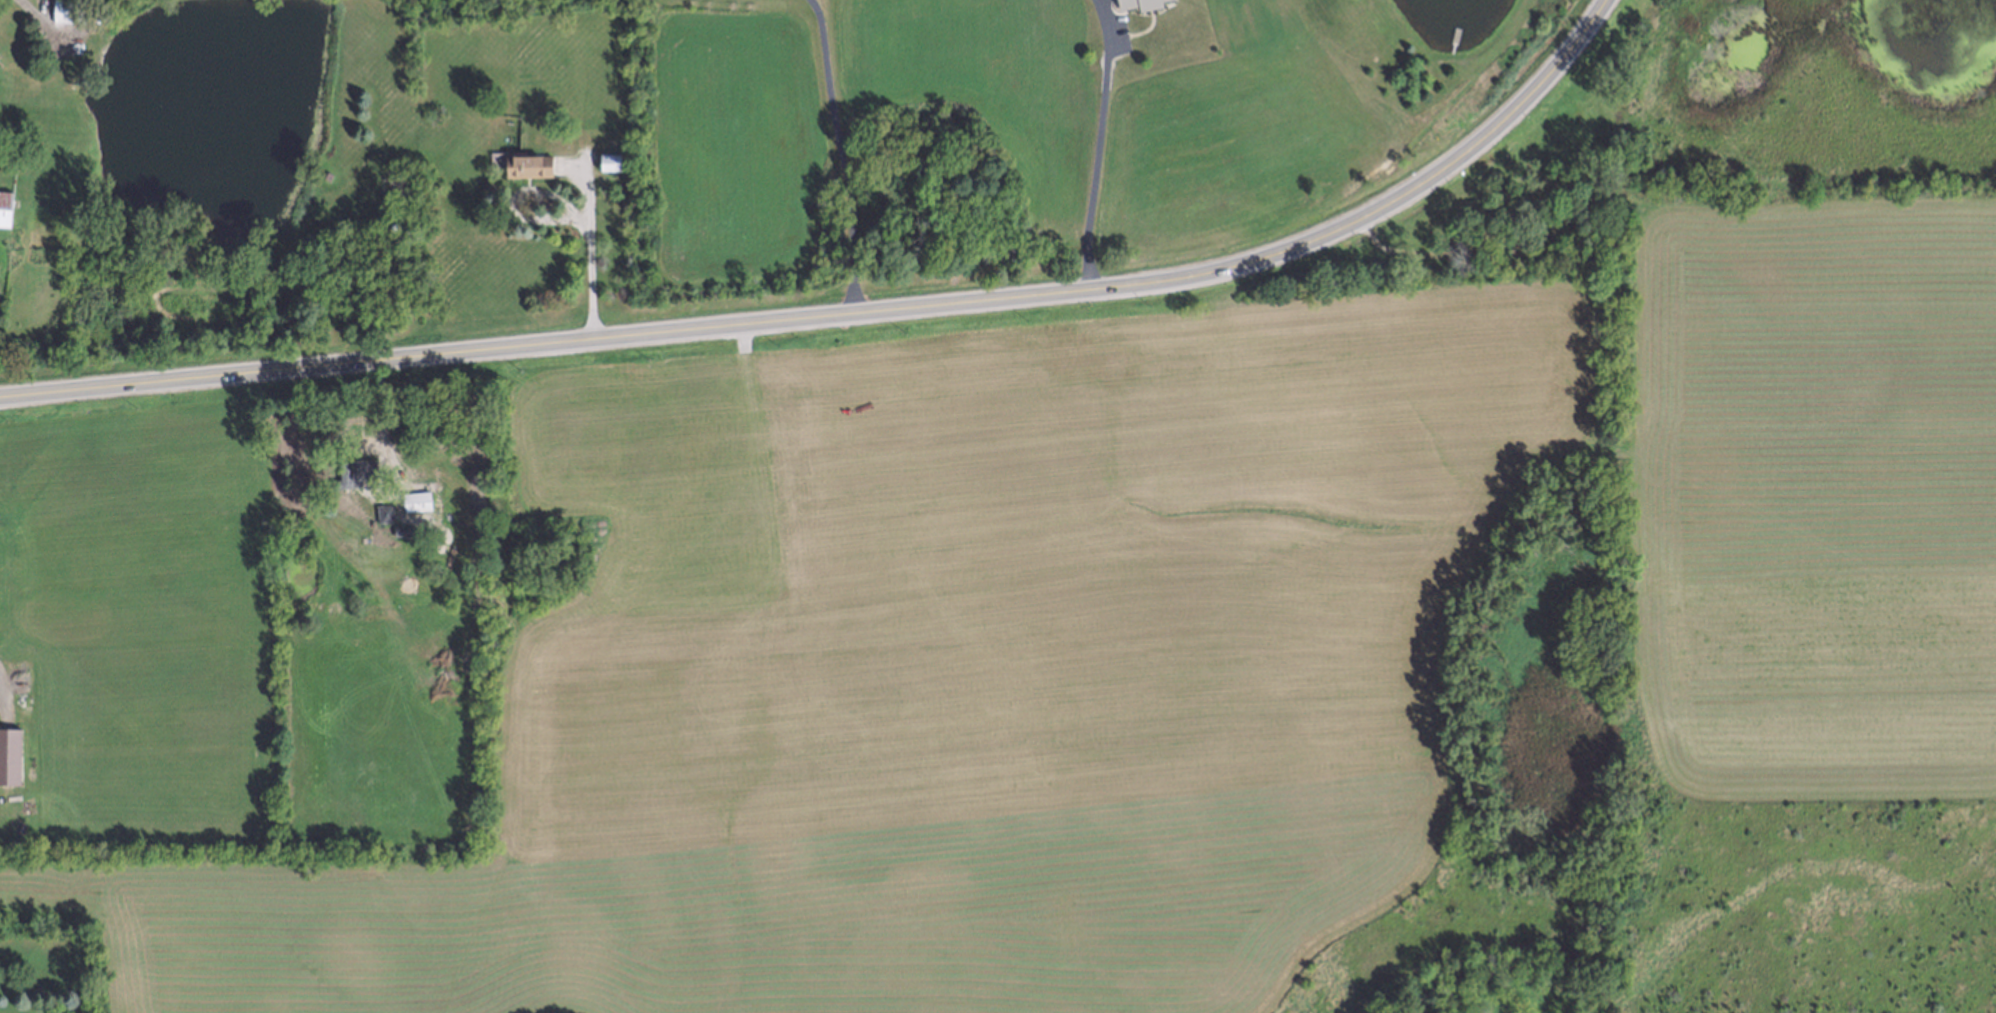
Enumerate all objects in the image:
building: (1140, 4)
building: (64, 11)
road: (1095, 144)
road: (839, 153)
building: (610, 162)
building: (529, 167)
building: (5, 209)
road: (585, 243)
road: (852, 311)
building: (364, 469)
building: (418, 502)
building: (386, 514)
building: (10, 757)

